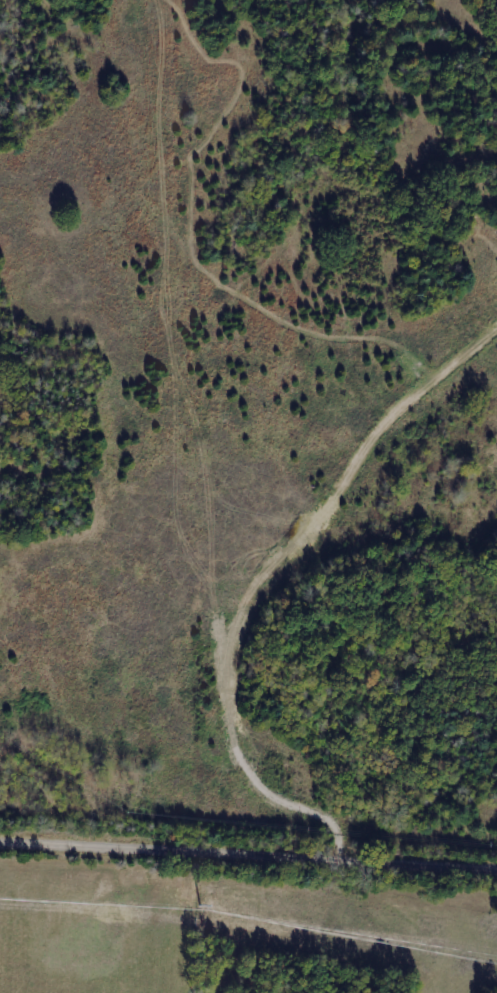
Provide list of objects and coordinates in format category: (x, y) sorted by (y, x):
road: (249, 838)

